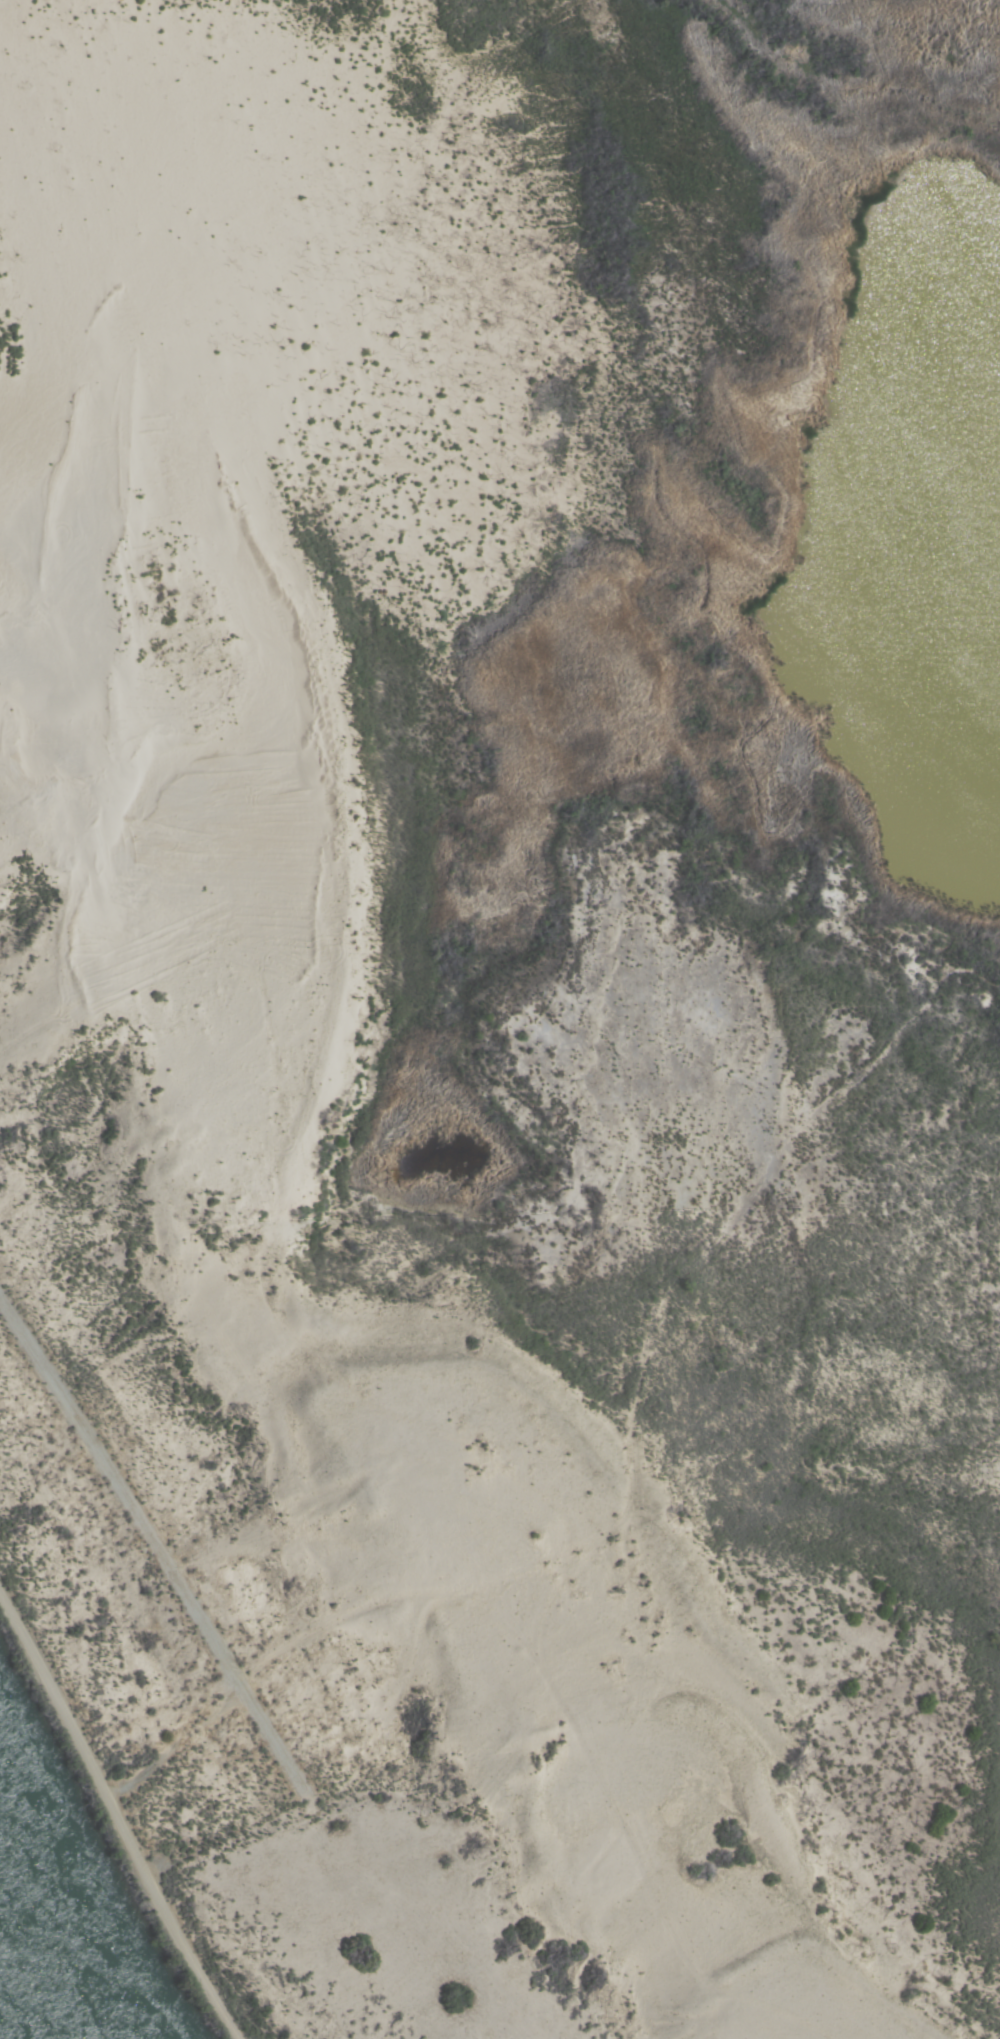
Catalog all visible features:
river: (41, 1965)

